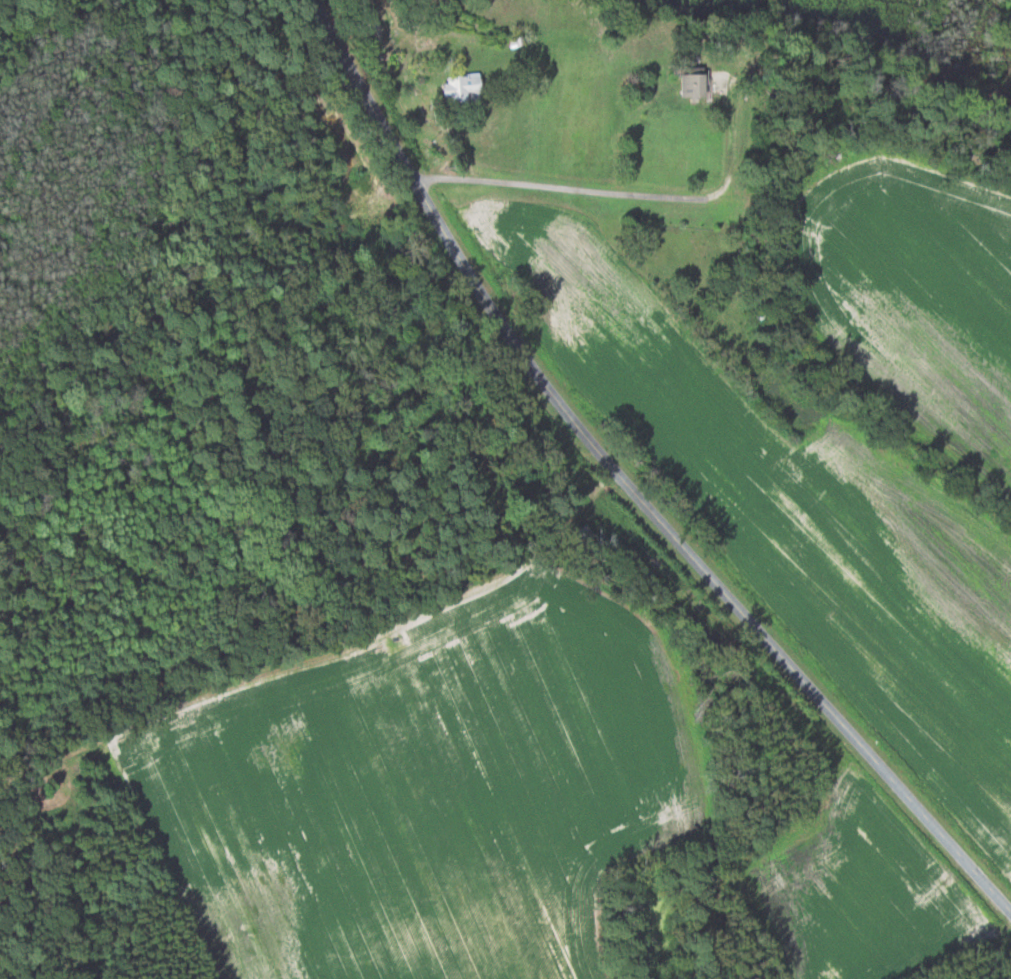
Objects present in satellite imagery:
building: (683, 87)
building: (456, 88)
road: (568, 189)
road: (625, 484)

